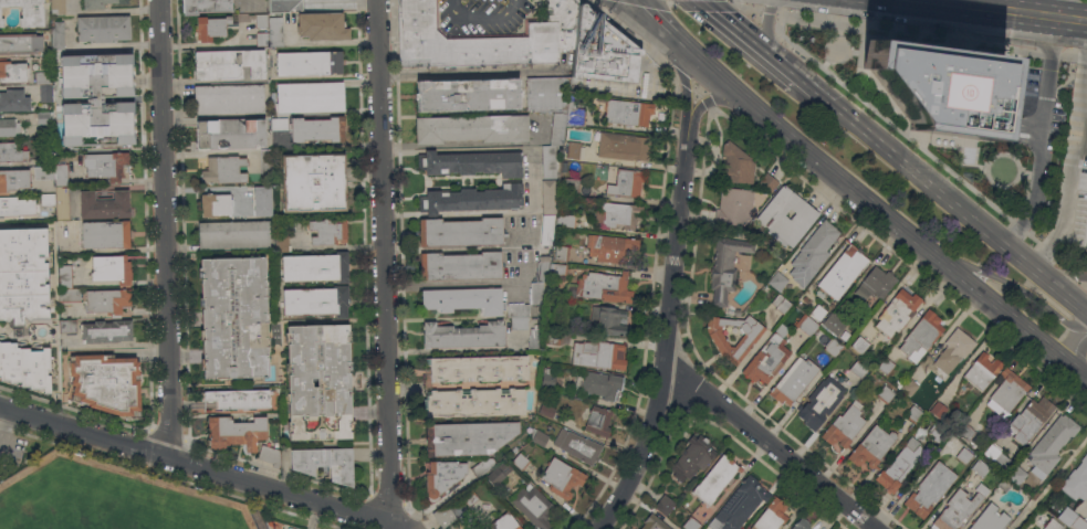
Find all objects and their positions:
road: (734, 2)
building: (100, 3)
road: (691, 3)
road: (1053, 4)
building: (206, 6)
building: (281, 6)
building: (58, 7)
road: (757, 8)
building: (27, 11)
road: (482, 15)
road: (965, 15)
building: (261, 20)
building: (563, 20)
road: (660, 21)
building: (322, 25)
building: (210, 27)
building: (103, 28)
building: (275, 31)
road: (767, 33)
road: (932, 33)
building: (58, 35)
building: (262, 39)
road: (748, 40)
building: (468, 41)
building: (20, 43)
building: (602, 50)
building: (310, 63)
park: (843, 63)
building: (228, 64)
building: (12, 72)
building: (1011, 84)
building: (44, 85)
road: (684, 86)
building: (939, 86)
road: (696, 89)
road: (812, 91)
helipad: (943, 92)
building: (468, 94)
building: (310, 97)
building: (228, 98)
building: (14, 99)
building: (97, 99)
road: (705, 102)
building: (553, 113)
building: (620, 113)
building: (43, 118)
road: (888, 120)
building: (280, 124)
building: (10, 127)
building: (471, 128)
building: (317, 129)
building: (230, 133)
building: (45, 135)
road: (1080, 139)
road: (1042, 140)
building: (623, 146)
road: (458, 150)
building: (573, 150)
building: (12, 152)
park: (857, 158)
building: (265, 161)
road: (1072, 161)
building: (471, 162)
building: (105, 165)
building: (735, 165)
park: (986, 166)
building: (224, 170)
road: (796, 172)
building: (573, 173)
building: (13, 180)
building: (313, 182)
building: (627, 182)
building: (767, 182)
building: (56, 184)
building: (572, 186)
building: (548, 195)
building: (471, 199)
building: (262, 201)
building: (104, 204)
building: (216, 204)
building: (8, 205)
building: (734, 205)
road: (955, 205)
road: (491, 210)
road: (881, 212)
building: (43, 214)
building: (618, 214)
building: (786, 216)
building: (565, 220)
road: (1020, 228)
road: (163, 229)
building: (547, 229)
building: (327, 231)
building: (461, 232)
building: (105, 234)
building: (233, 234)
road: (1032, 237)
building: (281, 241)
building: (614, 248)
road: (1048, 250)
building: (562, 253)
building: (813, 253)
road: (655, 254)
road: (385, 261)
building: (460, 265)
building: (727, 266)
building: (315, 267)
building: (111, 268)
building: (557, 268)
road: (1073, 269)
building: (843, 271)
road: (403, 272)
building: (23, 274)
building: (540, 279)
building: (778, 281)
road: (452, 282)
building: (876, 283)
building: (67, 285)
building: (605, 287)
road: (1018, 289)
road: (147, 292)
building: (464, 299)
building: (108, 300)
building: (316, 301)
building: (781, 303)
building: (736, 311)
building: (792, 311)
building: (818, 311)
building: (898, 311)
building: (519, 315)
building: (233, 318)
building: (608, 321)
building: (807, 325)
building: (833, 325)
building: (67, 326)
building: (106, 331)
building: (463, 335)
building: (922, 335)
road: (663, 337)
building: (540, 338)
building: (744, 342)
building: (860, 345)
building: (833, 347)
road: (1077, 348)
building: (951, 352)
building: (598, 355)
building: (769, 357)
building: (24, 366)
building: (886, 366)
building: (478, 368)
building: (858, 368)
building: (982, 370)
building: (548, 380)
building: (794, 380)
building: (318, 382)
building: (106, 383)
building: (603, 384)
building: (898, 384)
building: (910, 387)
road: (689, 391)
building: (1007, 392)
building: (886, 394)
building: (239, 398)
building: (474, 402)
building: (821, 402)
building: (938, 409)
building: (547, 410)
building: (913, 414)
building: (1029, 419)
building: (598, 420)
road: (4, 424)
building: (844, 425)
road: (6, 427)
building: (965, 431)
building: (236, 432)
building: (939, 432)
road: (169, 435)
building: (540, 436)
building: (468, 437)
building: (1052, 444)
building: (578, 445)
road: (772, 445)
building: (871, 446)
road: (146, 449)
building: (992, 452)
building: (270, 455)
building: (964, 455)
building: (692, 457)
building: (520, 461)
building: (1003, 461)
building: (325, 462)
building: (900, 465)
building: (483, 466)
road: (654, 467)
building: (980, 467)
road: (203, 468)
building: (504, 468)
building: (1016, 475)
building: (494, 476)
building: (441, 477)
building: (562, 477)
road: (174, 478)
road: (303, 479)
building: (715, 479)
building: (1076, 480)
road: (1049, 482)
building: (1003, 485)
building: (930, 488)
building: (982, 489)
park: (103, 495)
building: (470, 496)
park: (103, 502)
road: (388, 504)
building: (665, 504)
building: (740, 505)
building: (533, 506)
building: (957, 510)
building: (443, 515)
building: (1067, 515)
building: (771, 516)
building: (990, 518)
building: (504, 522)
building: (654, 522)
building: (1079, 522)
building: (690, 523)
building: (275, 525)
building: (802, 525)
building: (1053, 525)
building: (474, 527)

